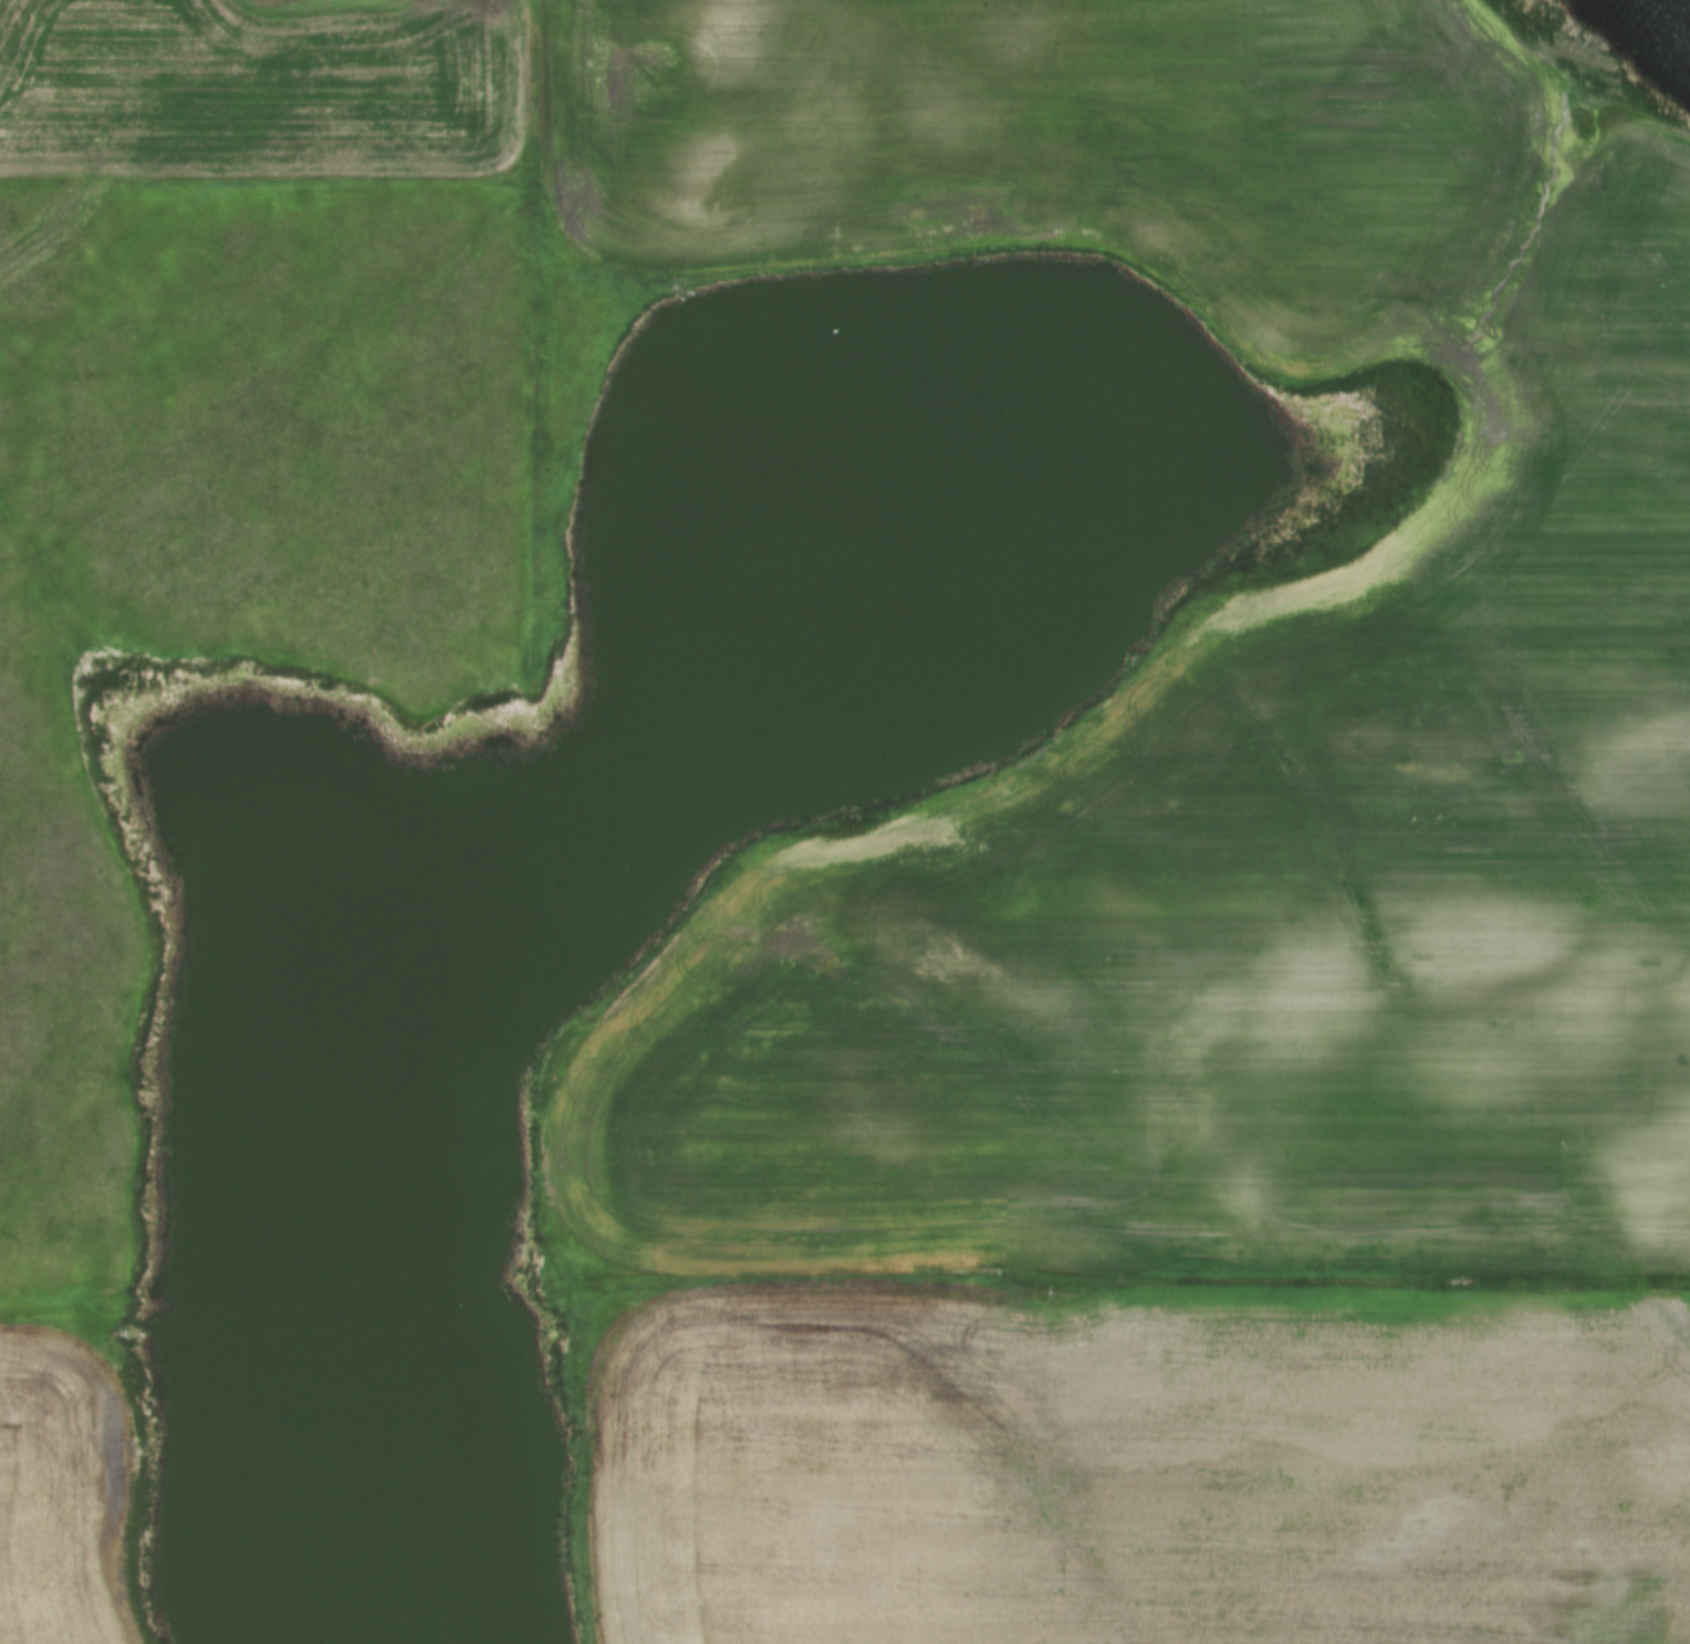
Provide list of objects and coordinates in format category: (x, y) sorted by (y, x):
road: (257, 397)

